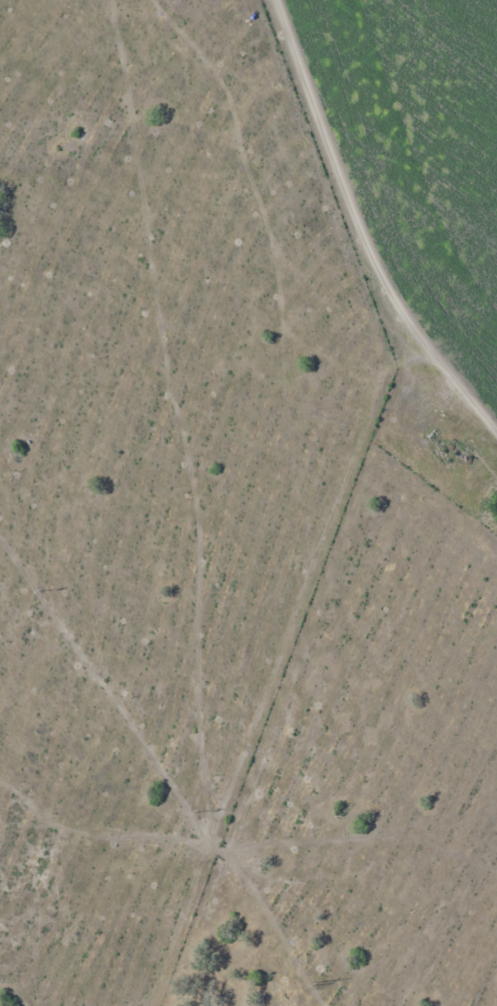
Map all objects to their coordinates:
road: (363, 238)

